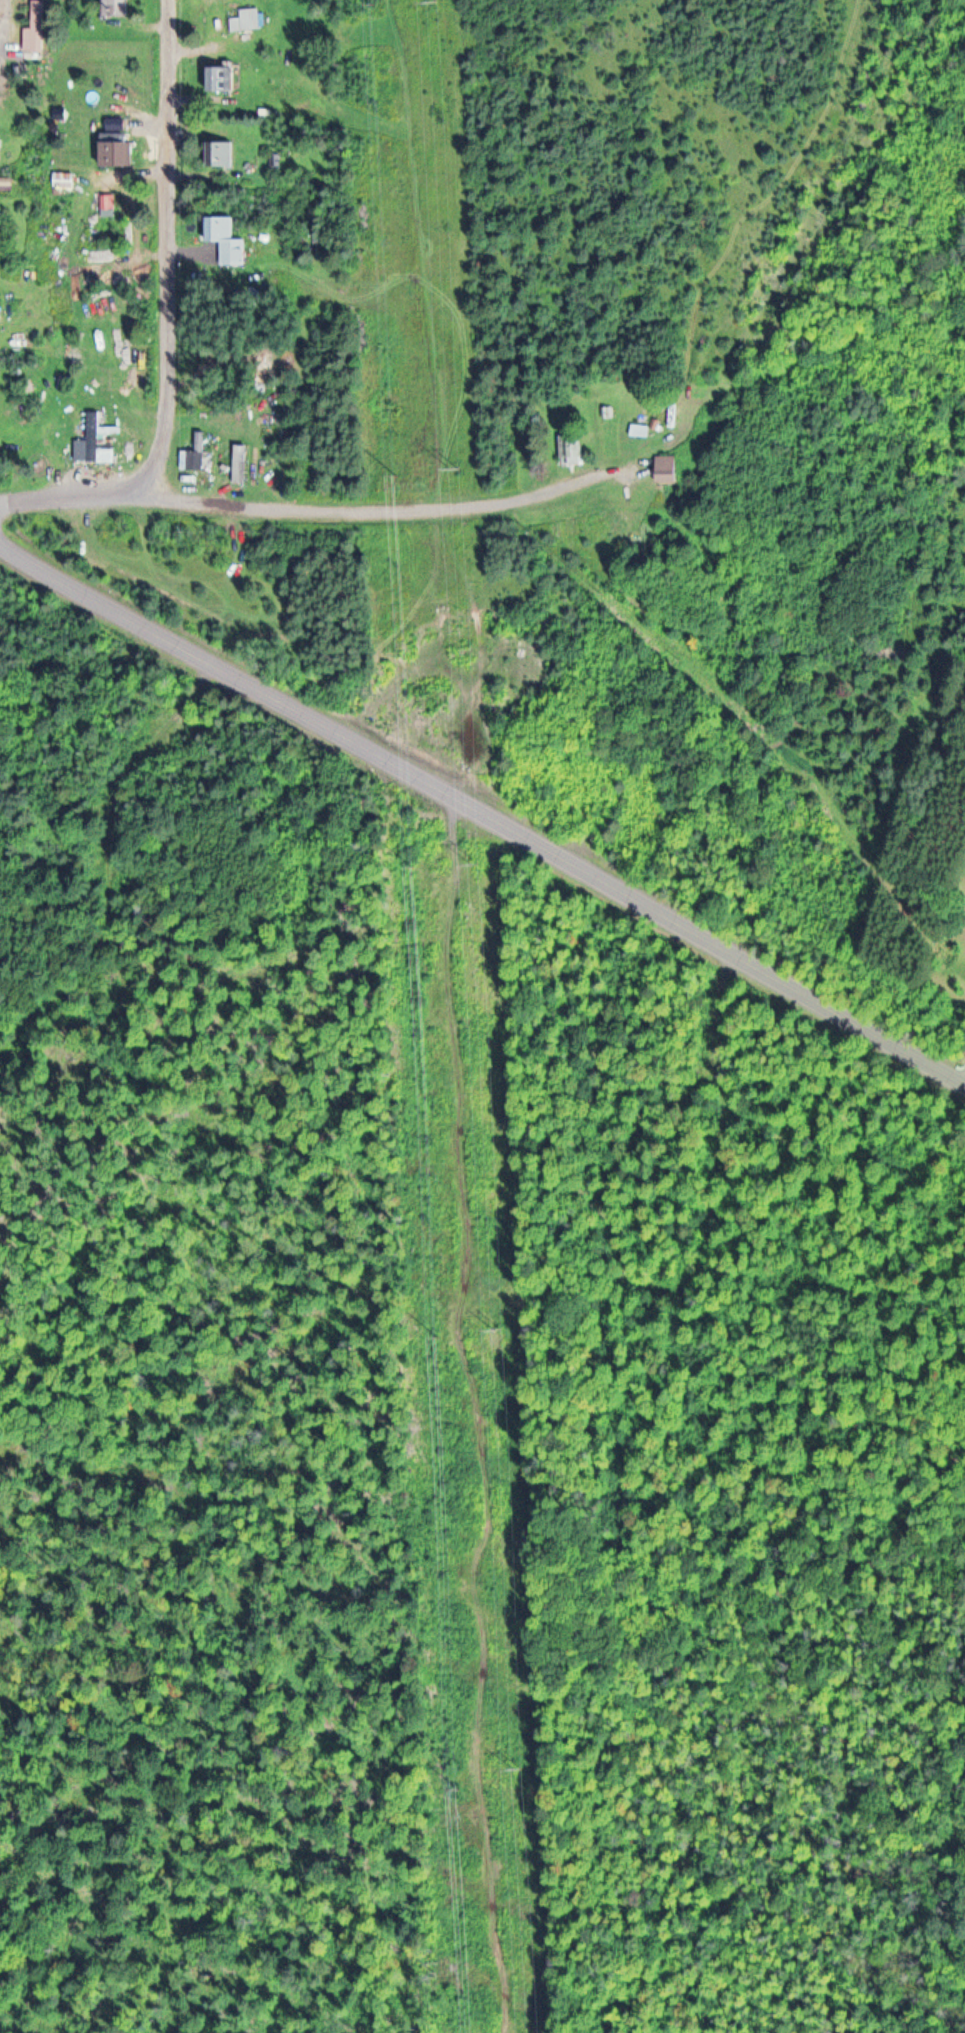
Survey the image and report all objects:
building: (117, 9)
building: (220, 77)
building: (118, 152)
building: (223, 153)
building: (66, 181)
building: (228, 238)
road: (172, 248)
building: (0, 298)
building: (102, 441)
building: (571, 445)
building: (199, 449)
building: (243, 456)
building: (664, 465)
road: (318, 506)
road: (225, 659)
road: (707, 932)

